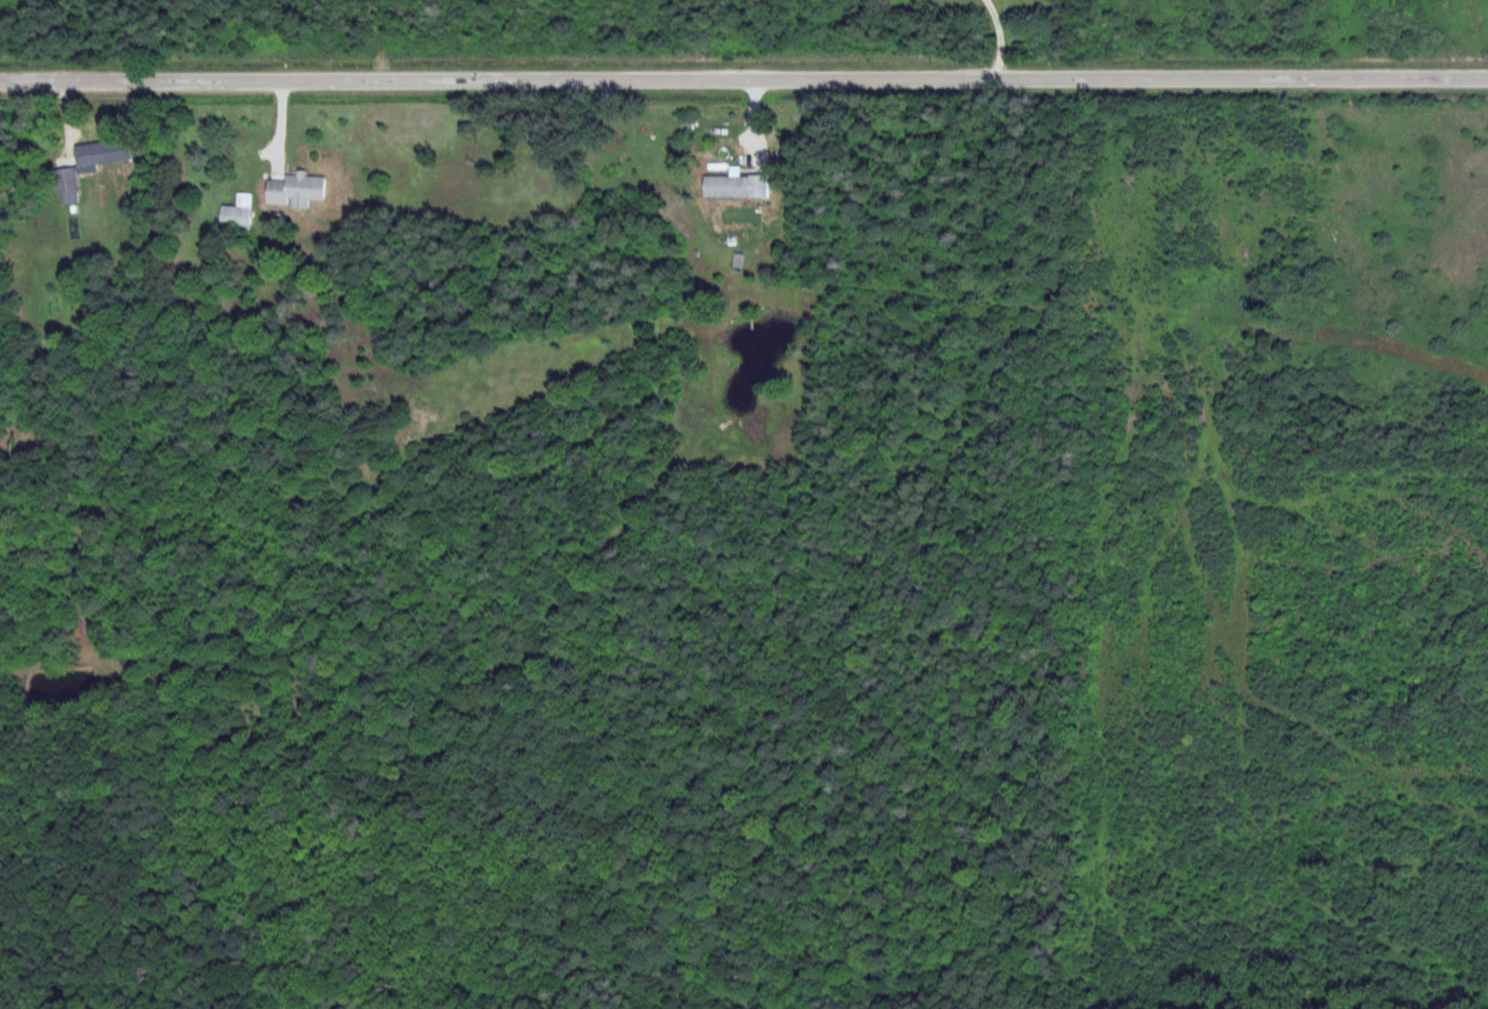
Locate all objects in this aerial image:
road: (1003, 39)
road: (743, 80)
building: (73, 187)
building: (742, 187)
building: (302, 191)
building: (240, 218)

